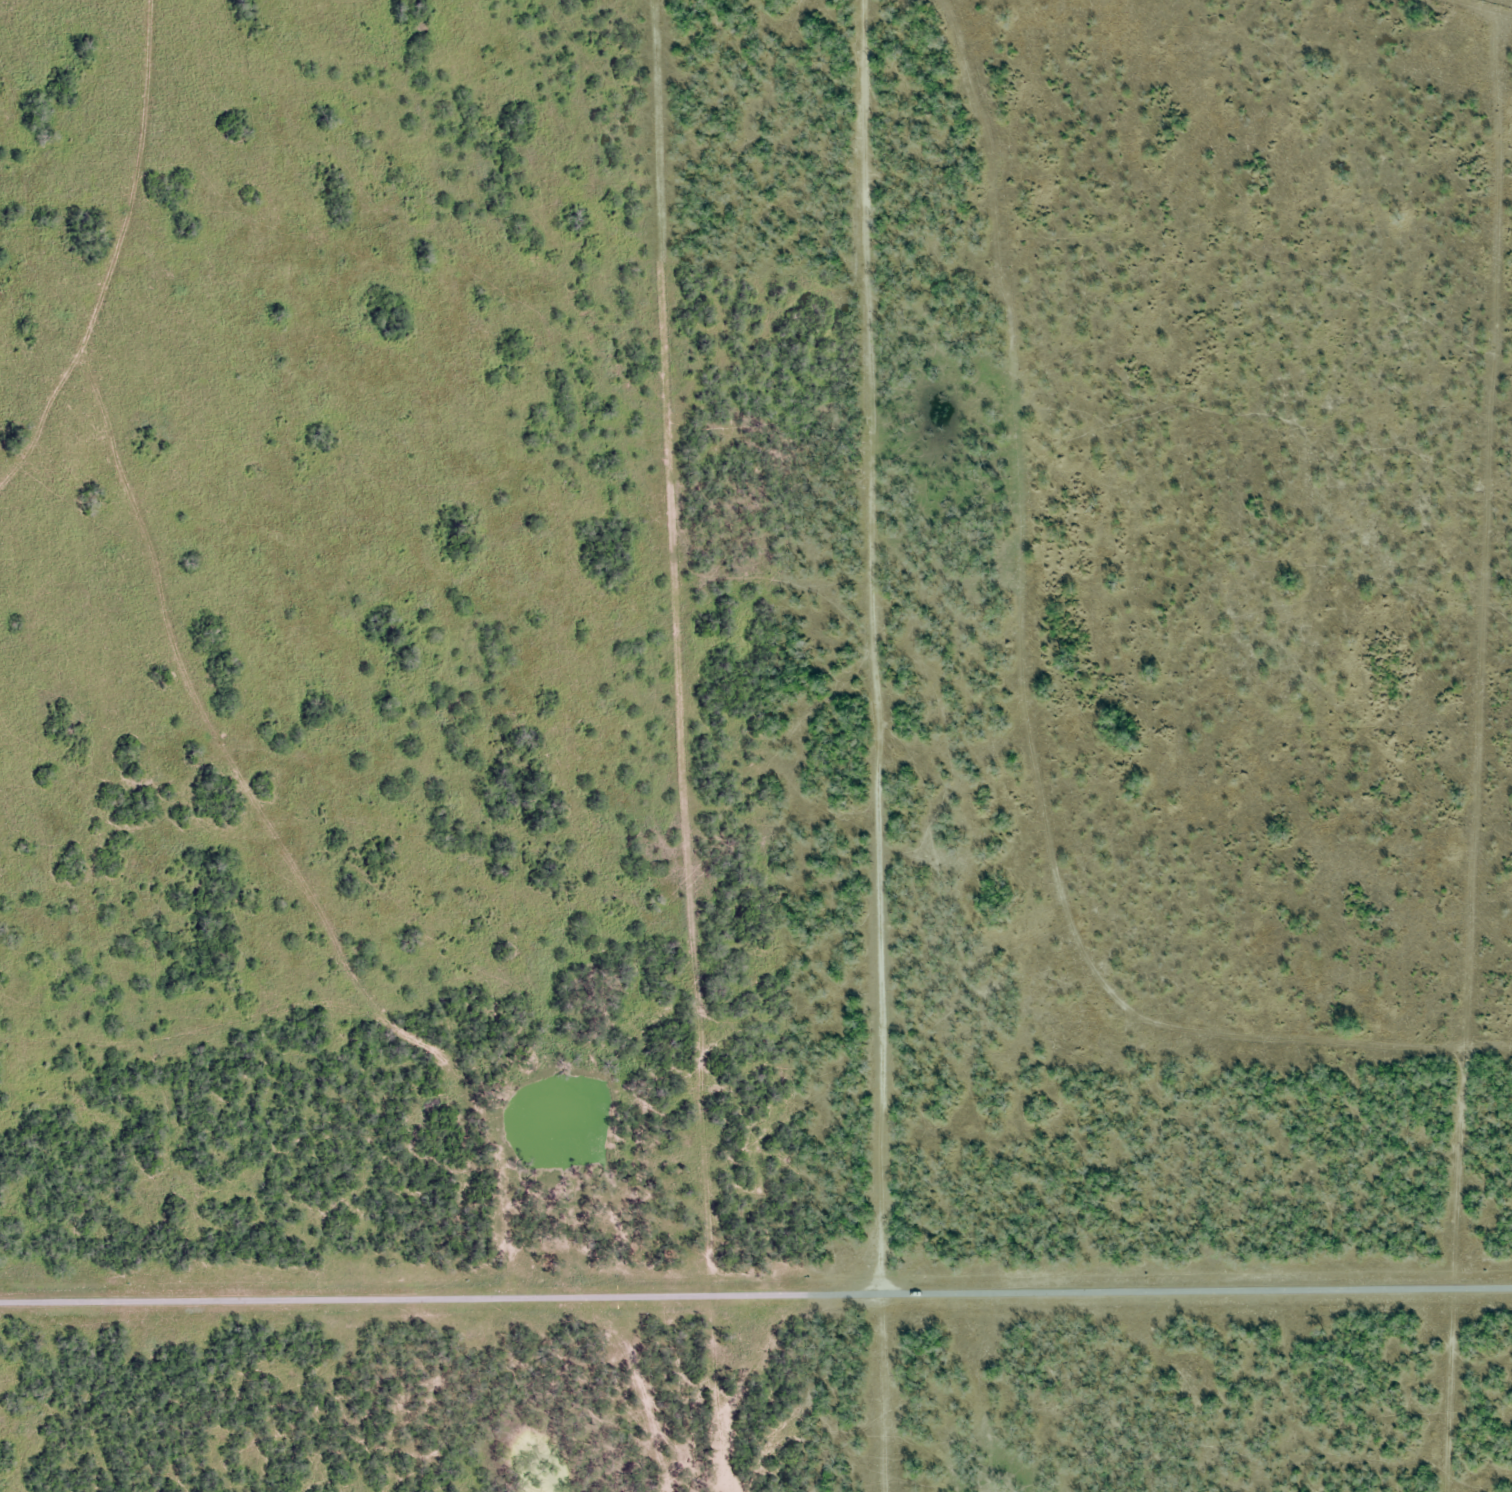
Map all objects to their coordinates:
road: (870, 629)
road: (756, 1259)

